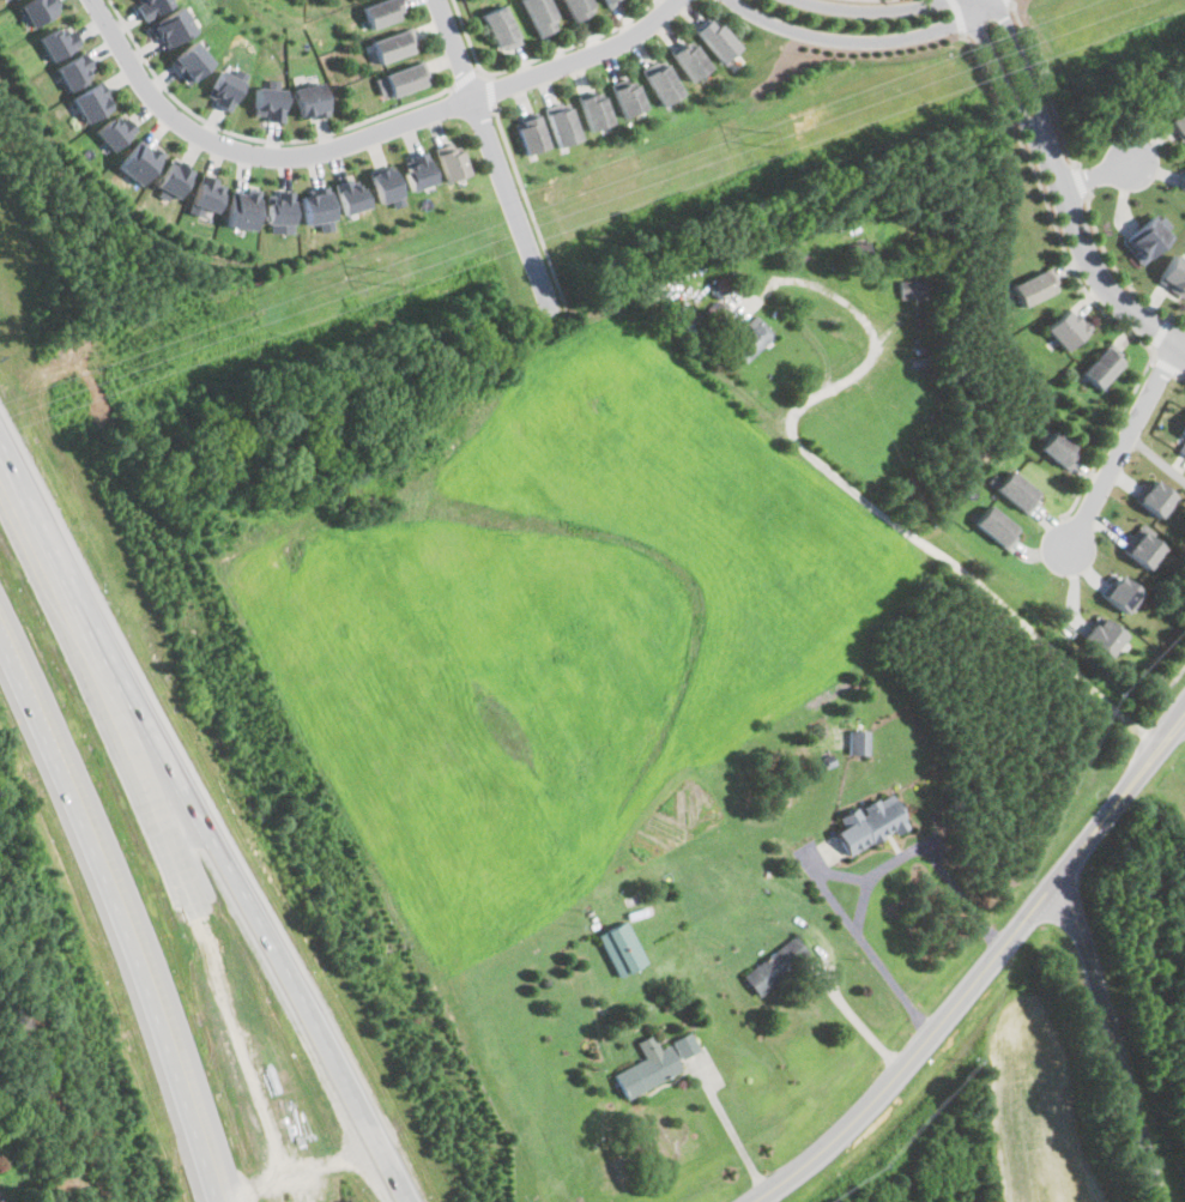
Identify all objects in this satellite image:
building: (4, 0)
road: (977, 0)
road: (1010, 1)
building: (347, 4)
building: (151, 6)
building: (615, 7)
building: (36, 10)
building: (380, 14)
building: (576, 16)
road: (957, 17)
building: (171, 26)
building: (540, 26)
road: (865, 29)
building: (56, 40)
building: (501, 43)
building: (388, 49)
building: (723, 53)
road: (536, 59)
road: (585, 60)
building: (189, 61)
building: (73, 68)
building: (693, 73)
road: (466, 79)
building: (398, 83)
building: (226, 85)
road: (1045, 85)
road: (492, 92)
building: (663, 95)
building: (91, 99)
building: (310, 99)
building: (228, 103)
building: (629, 109)
building: (314, 116)
building: (274, 117)
building: (1178, 123)
building: (598, 125)
building: (114, 129)
road: (254, 137)
power tower: (760, 137)
building: (567, 140)
building: (534, 150)
road: (252, 153)
road: (495, 155)
building: (451, 159)
building: (138, 161)
building: (418, 170)
building: (171, 179)
road: (1096, 179)
building: (1183, 179)
road: (1081, 182)
building: (386, 185)
road: (1058, 187)
building: (350, 193)
building: (205, 194)
building: (318, 207)
building: (241, 209)
road: (530, 209)
building: (279, 211)
building: (1145, 238)
road: (1119, 273)
building: (1173, 274)
power tower: (381, 276)
building: (1034, 285)
building: (911, 288)
road: (1083, 288)
building: (1064, 327)
road: (1161, 332)
road: (1181, 336)
building: (750, 338)
road: (1181, 342)
road: (1181, 345)
road: (861, 362)
building: (1101, 364)
road: (1165, 366)
road: (1181, 375)
building: (1181, 440)
road: (1121, 443)
building: (1059, 448)
building: (1016, 489)
building: (1153, 496)
building: (996, 525)
building: (1142, 544)
road: (936, 550)
building: (1120, 591)
building: (1104, 635)
road: (1162, 695)
road: (1174, 730)
building: (857, 741)
building: (869, 822)
road: (204, 834)
road: (876, 872)
road: (125, 908)
building: (622, 947)
building: (776, 966)
road: (974, 984)
road: (861, 1025)
road: (1111, 1037)
building: (654, 1063)
road: (732, 1131)
building: (1, 1198)

